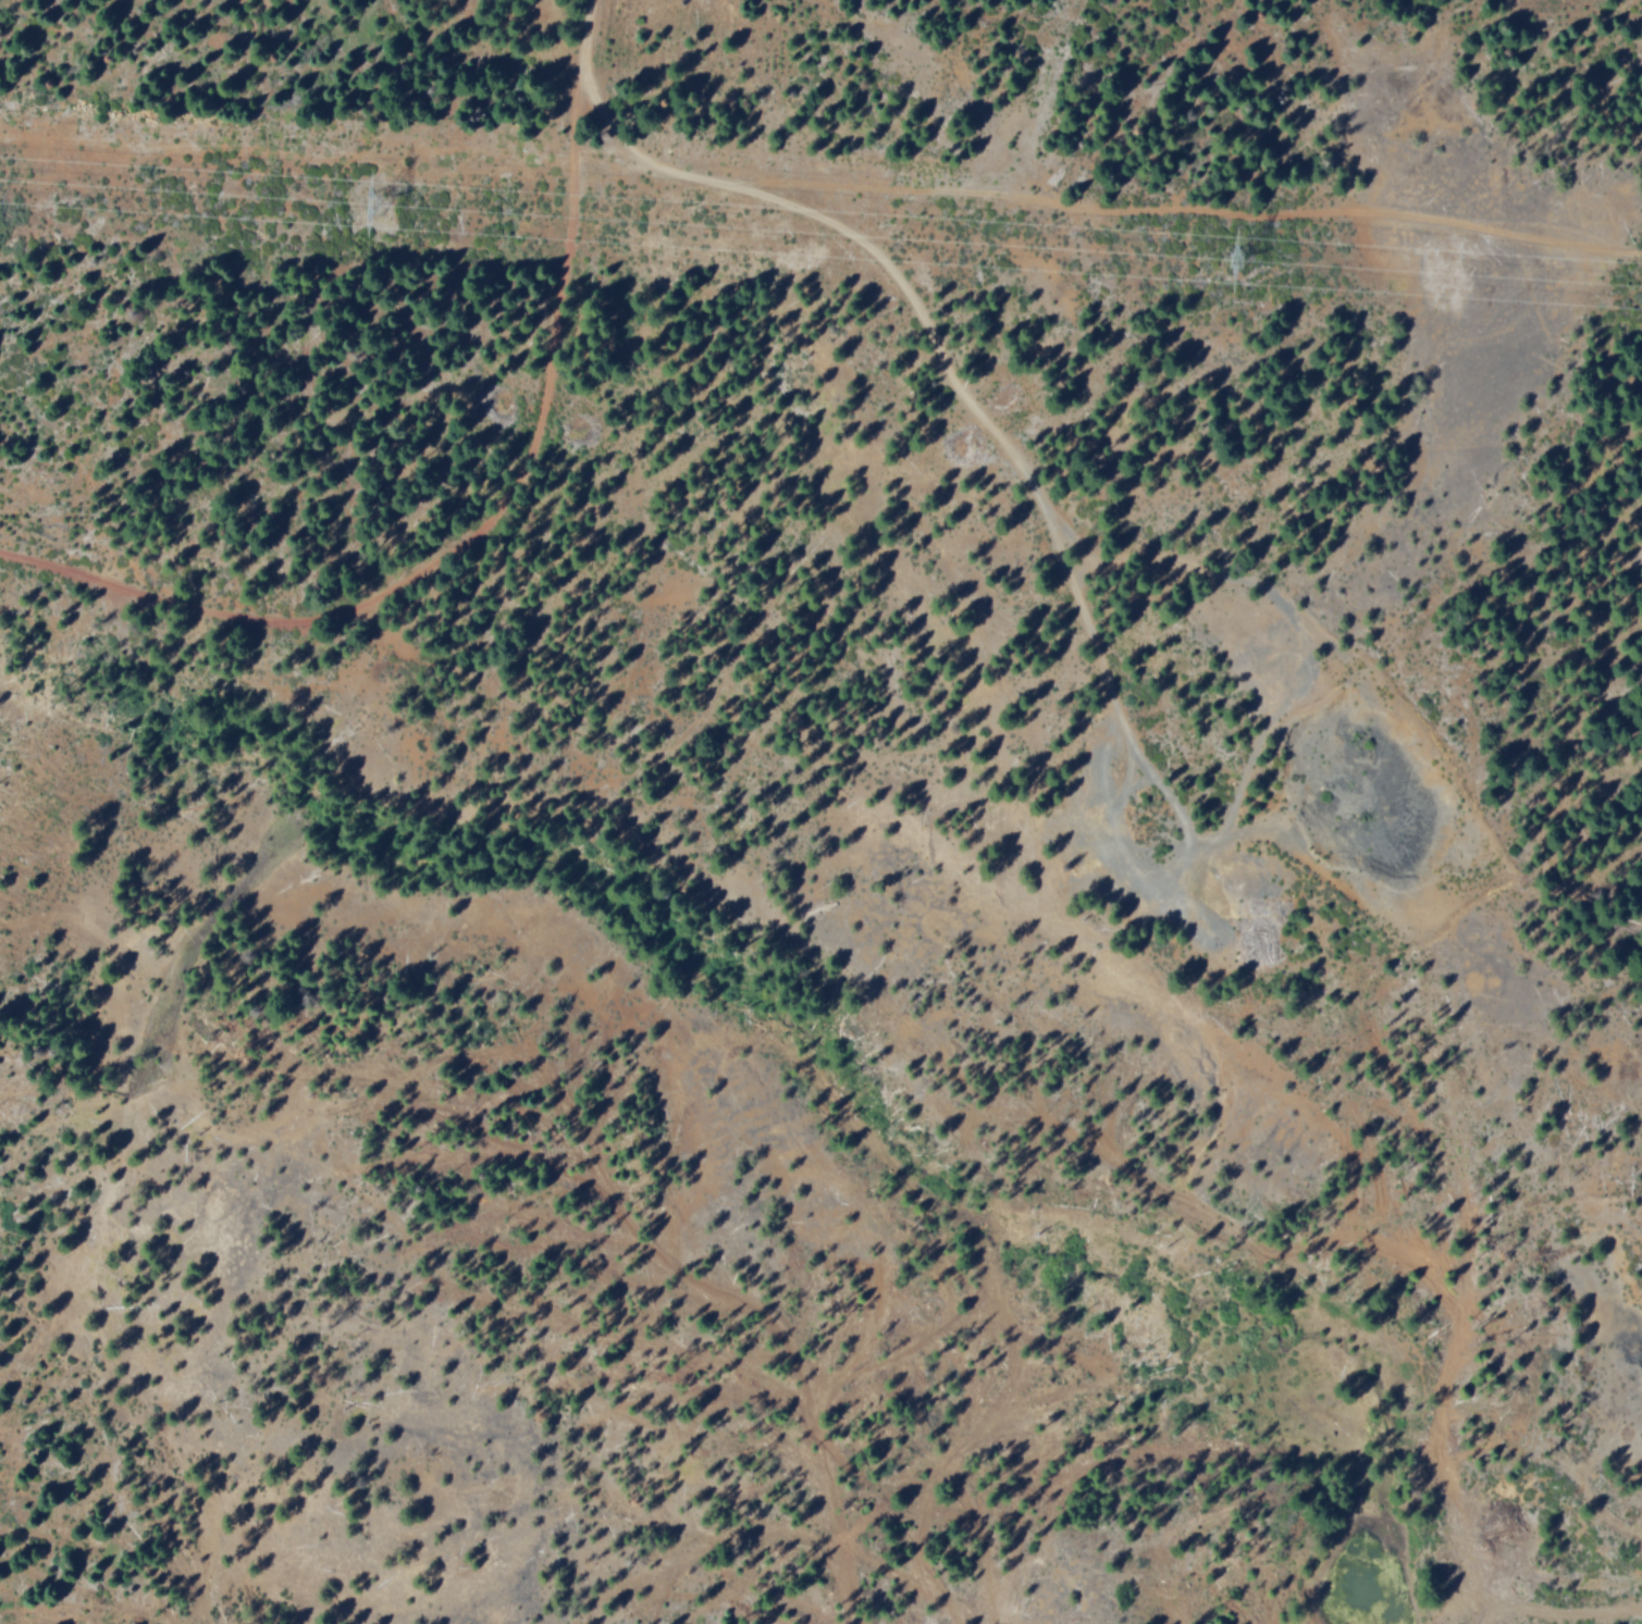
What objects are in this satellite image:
power tower: (375, 198)
power tower: (1242, 256)
road: (492, 512)

